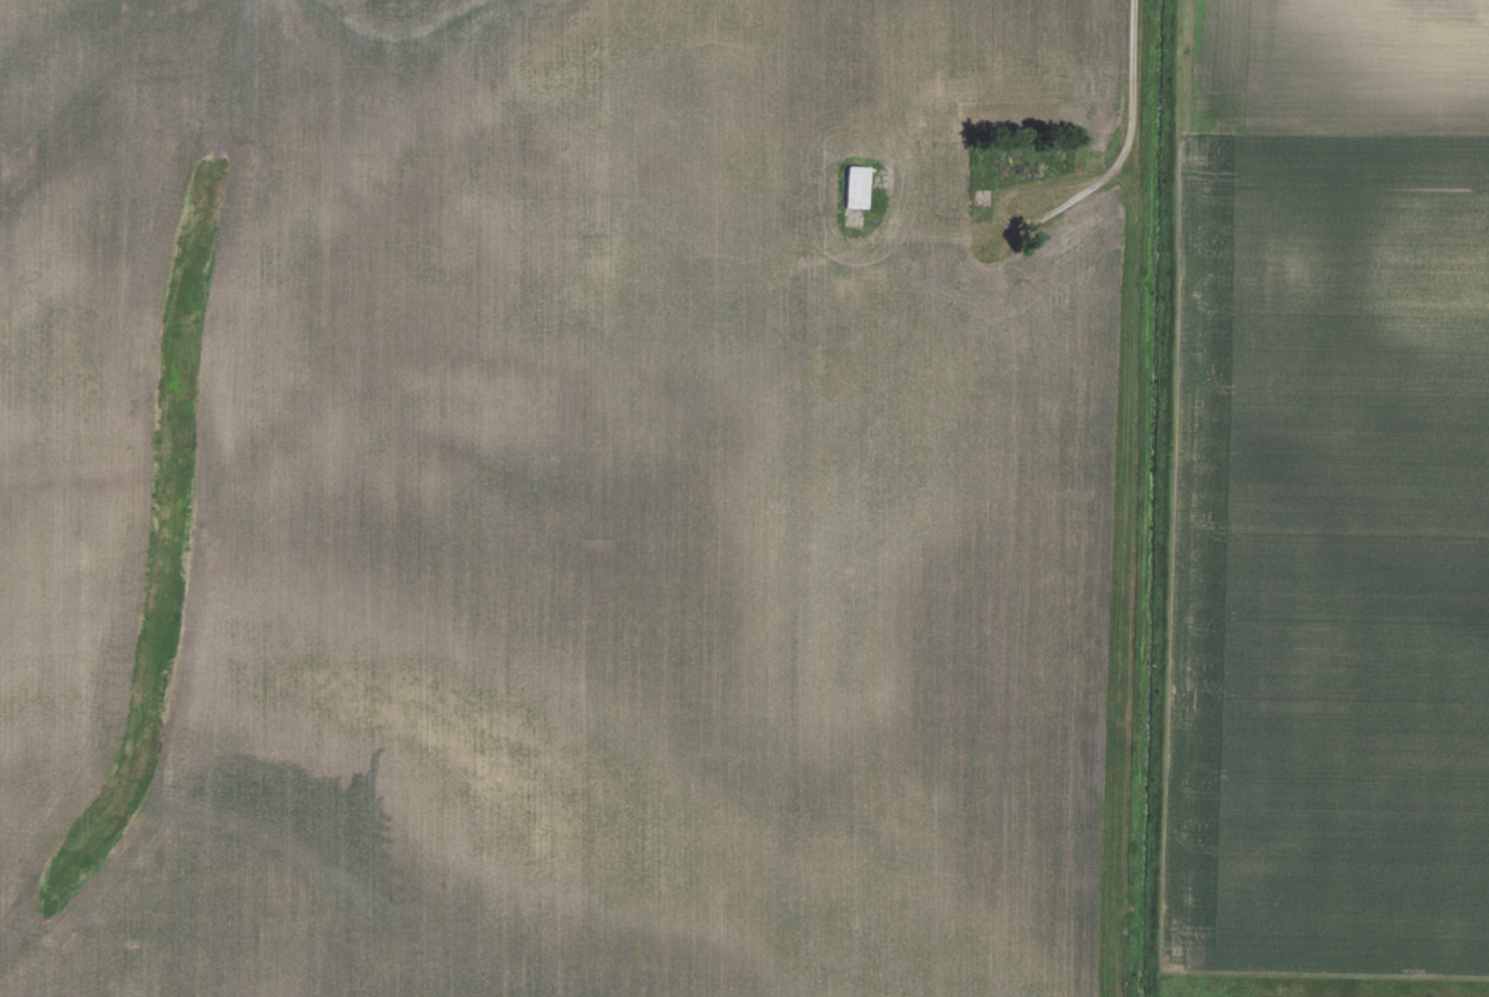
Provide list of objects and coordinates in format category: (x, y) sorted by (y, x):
road: (1129, 125)
building: (856, 186)

